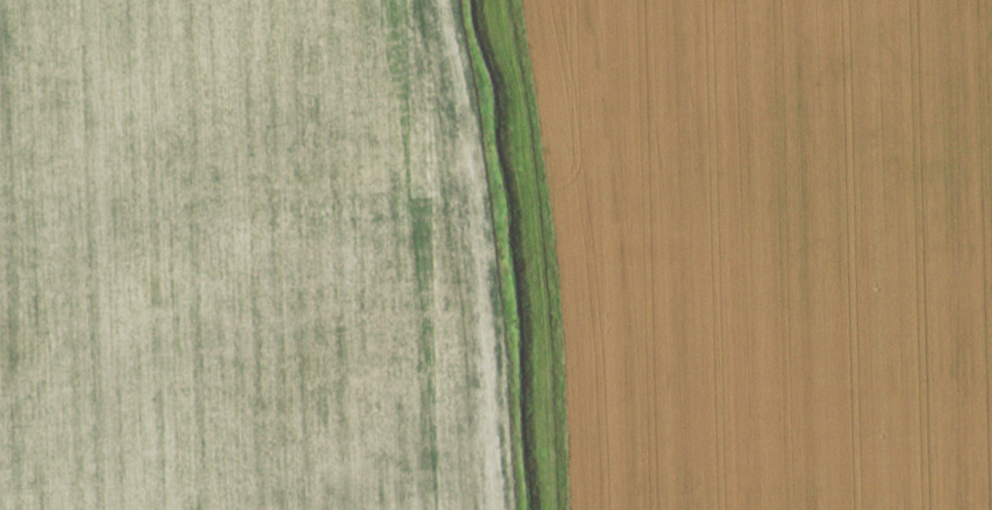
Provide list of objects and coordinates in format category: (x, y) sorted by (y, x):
crop: (768, 251)
crop: (250, 259)

